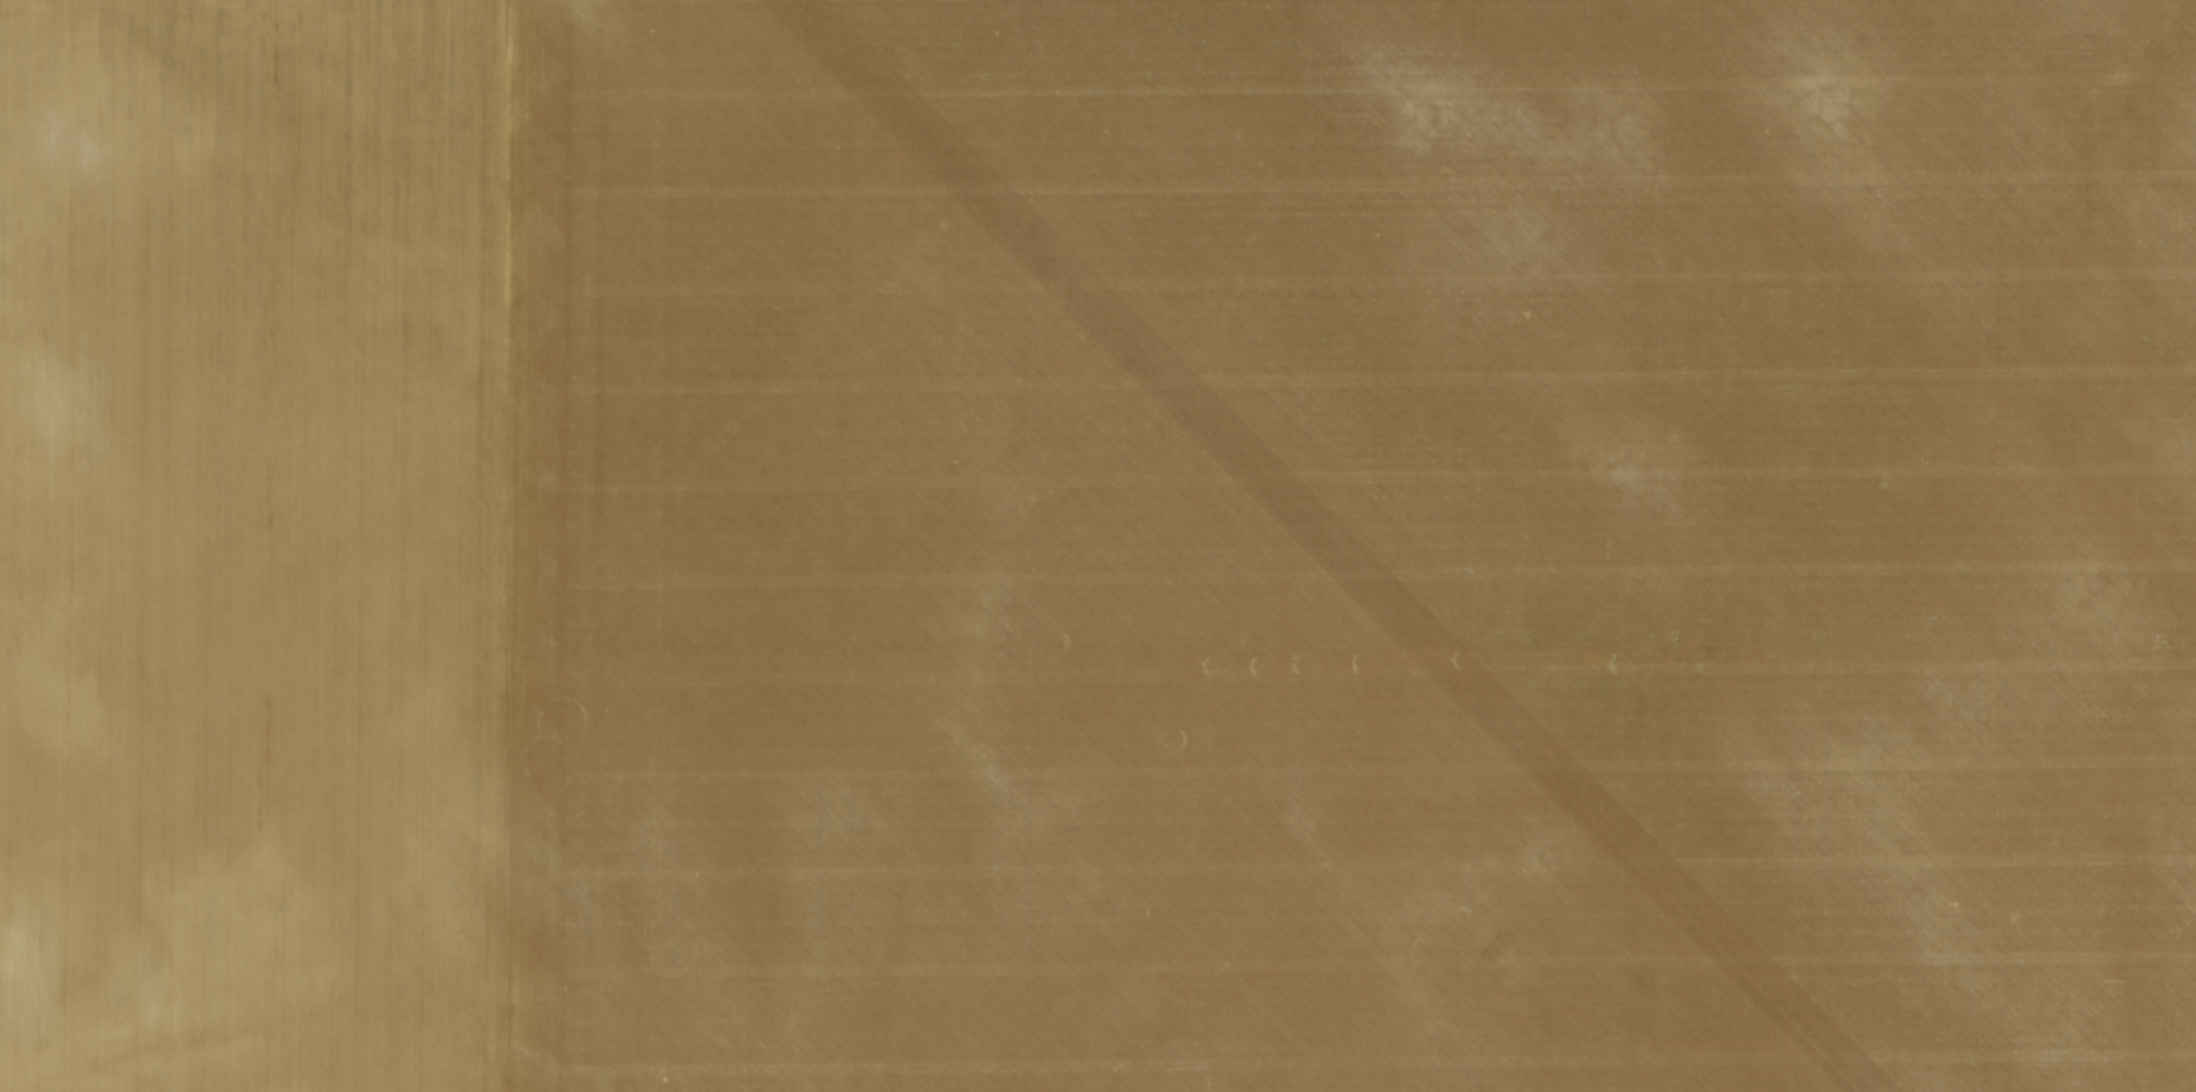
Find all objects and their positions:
crop: (1097, 546)

